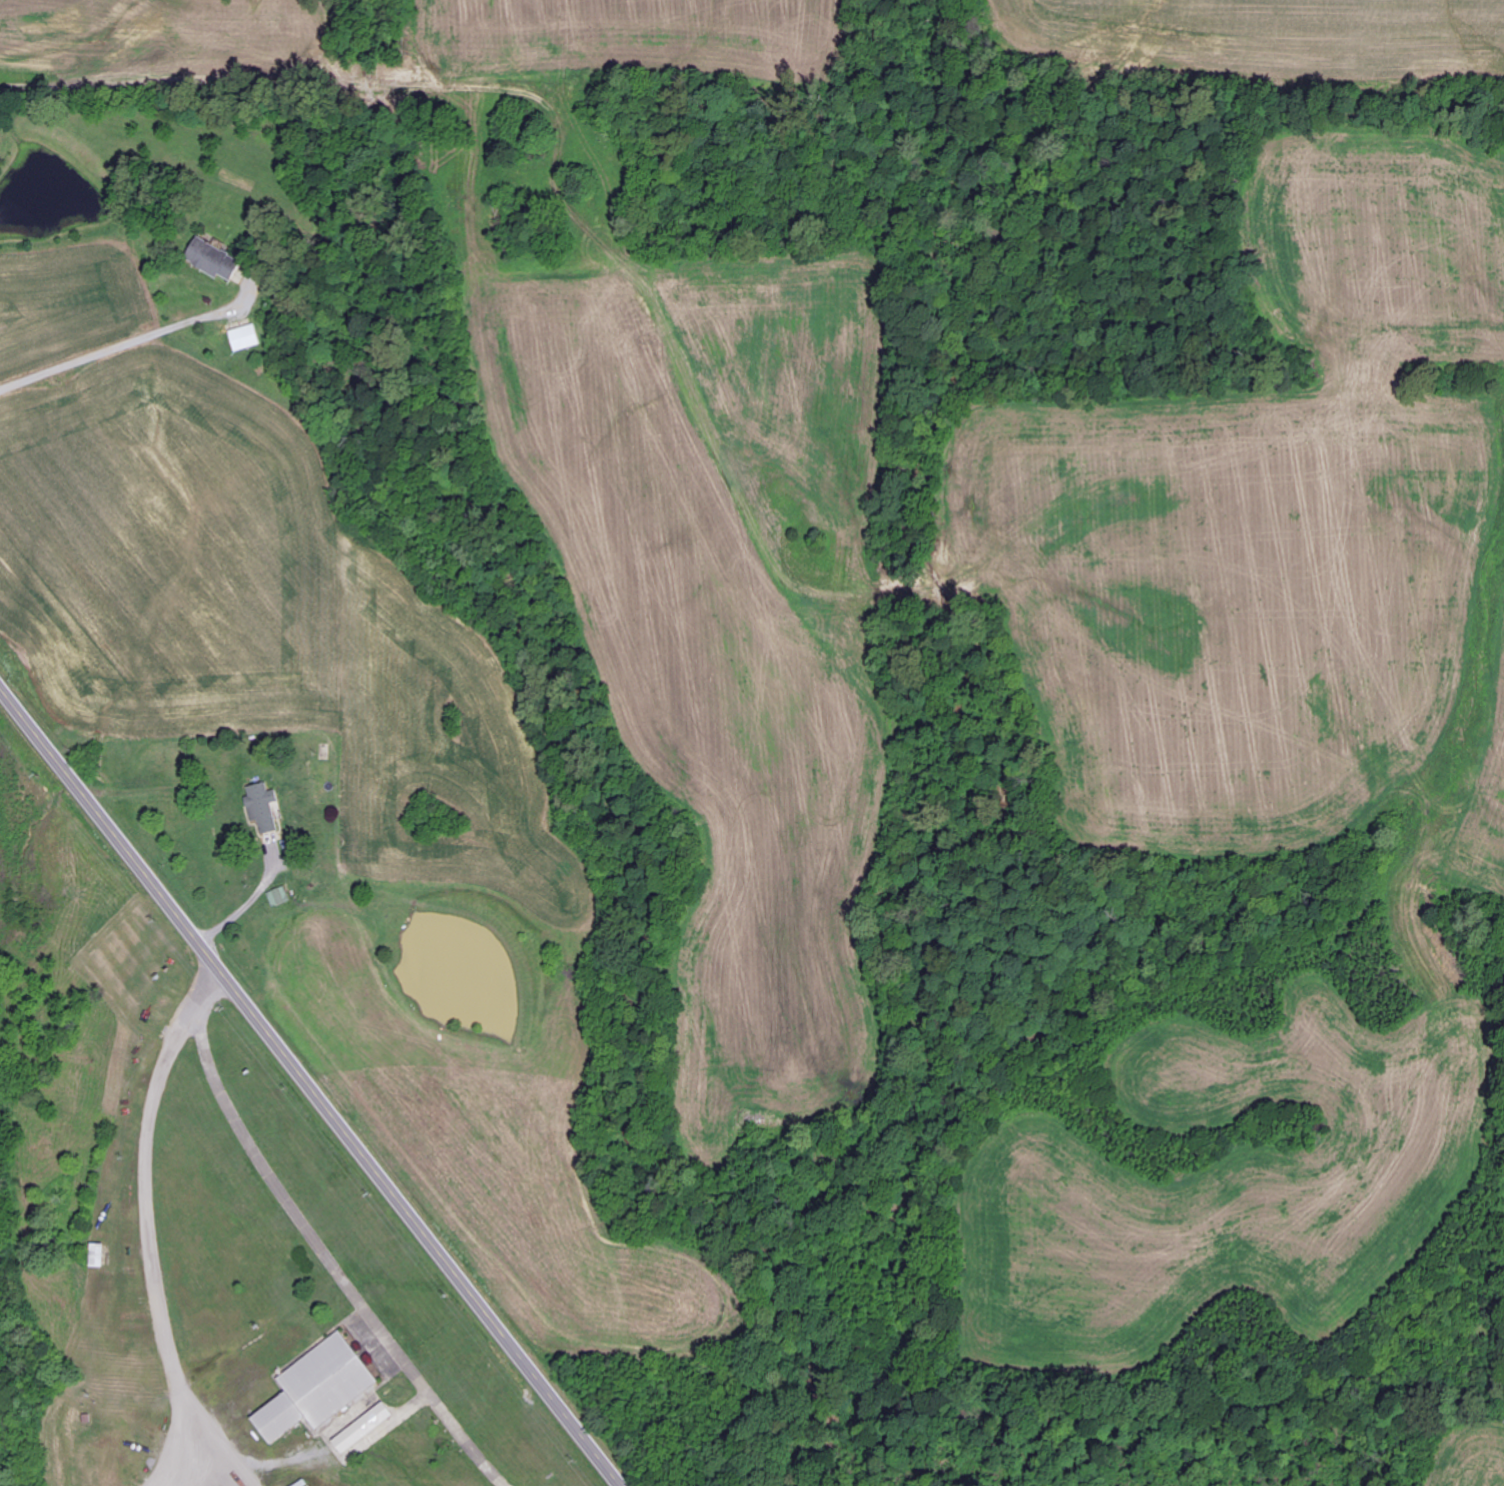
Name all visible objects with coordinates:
building: (213, 259)
building: (246, 338)
road: (329, 466)
road: (258, 735)
building: (263, 807)
road: (312, 1085)
building: (96, 1256)
building: (317, 1389)
building: (363, 1429)

